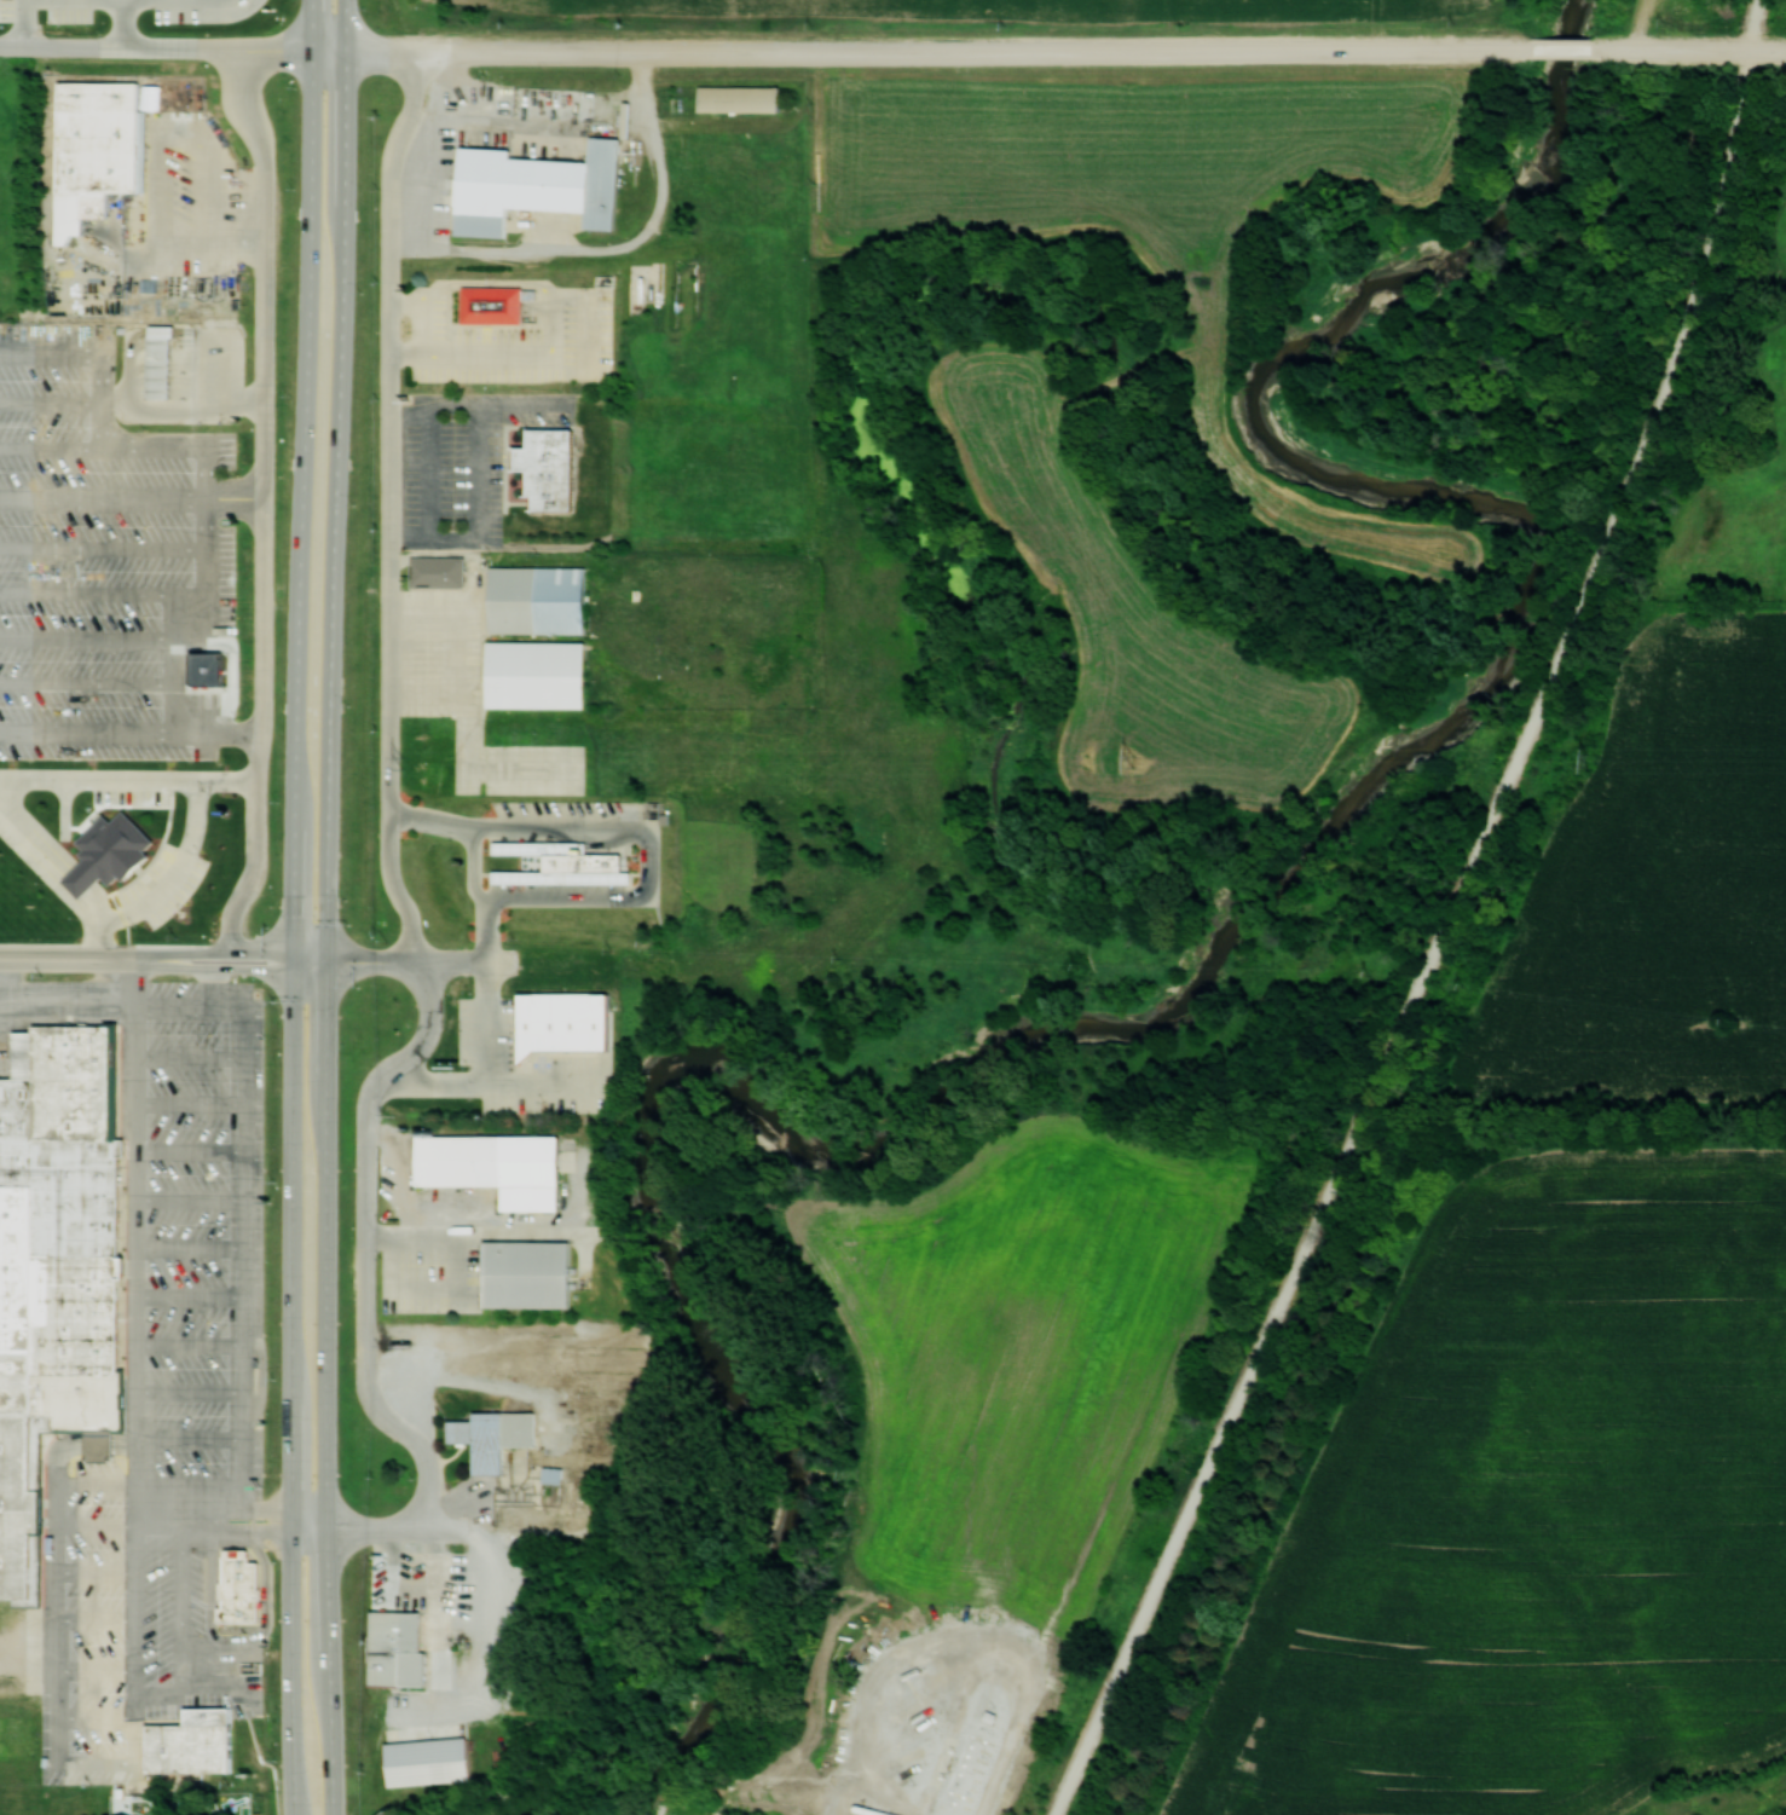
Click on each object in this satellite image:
crop: (952, 4)
road: (23, 23)
road: (123, 23)
road: (314, 23)
road: (174, 47)
road: (1570, 47)
road: (943, 48)
road: (1693, 50)
building: (744, 98)
building: (103, 148)
building: (541, 186)
building: (495, 302)
building: (163, 362)
road: (51, 400)
road: (51, 447)
building: (553, 468)
parking lot: (452, 478)
road: (339, 481)
road: (206, 486)
road: (103, 493)
road: (207, 495)
road: (260, 496)
road: (261, 503)
road: (304, 504)
road: (395, 505)
road: (103, 547)
parking lot: (104, 563)
building: (440, 571)
road: (103, 593)
building: (542, 596)
road: (88, 635)
building: (207, 669)
building: (541, 675)
road: (85, 682)
road: (89, 733)
power tower: (1590, 759)
power tower: (1135, 762)
power tower: (404, 763)
road: (128, 778)
building: (114, 852)
building: (572, 862)
road: (119, 913)
road: (1450, 921)
road: (98, 937)
road: (163, 963)
traffic signals: (295, 964)
traffic signals: (328, 964)
road: (409, 964)
building: (570, 1022)
road: (490, 1023)
road: (487, 1083)
building: (499, 1167)
road: (369, 1244)
building: (56, 1261)
building: (532, 1274)
parking lot: (170, 1385)
road: (293, 1389)
road: (330, 1389)
building: (498, 1437)
building: (556, 1474)
road: (383, 1528)
building: (242, 1586)
building: (399, 1647)
building: (195, 1744)
building: (432, 1761)

